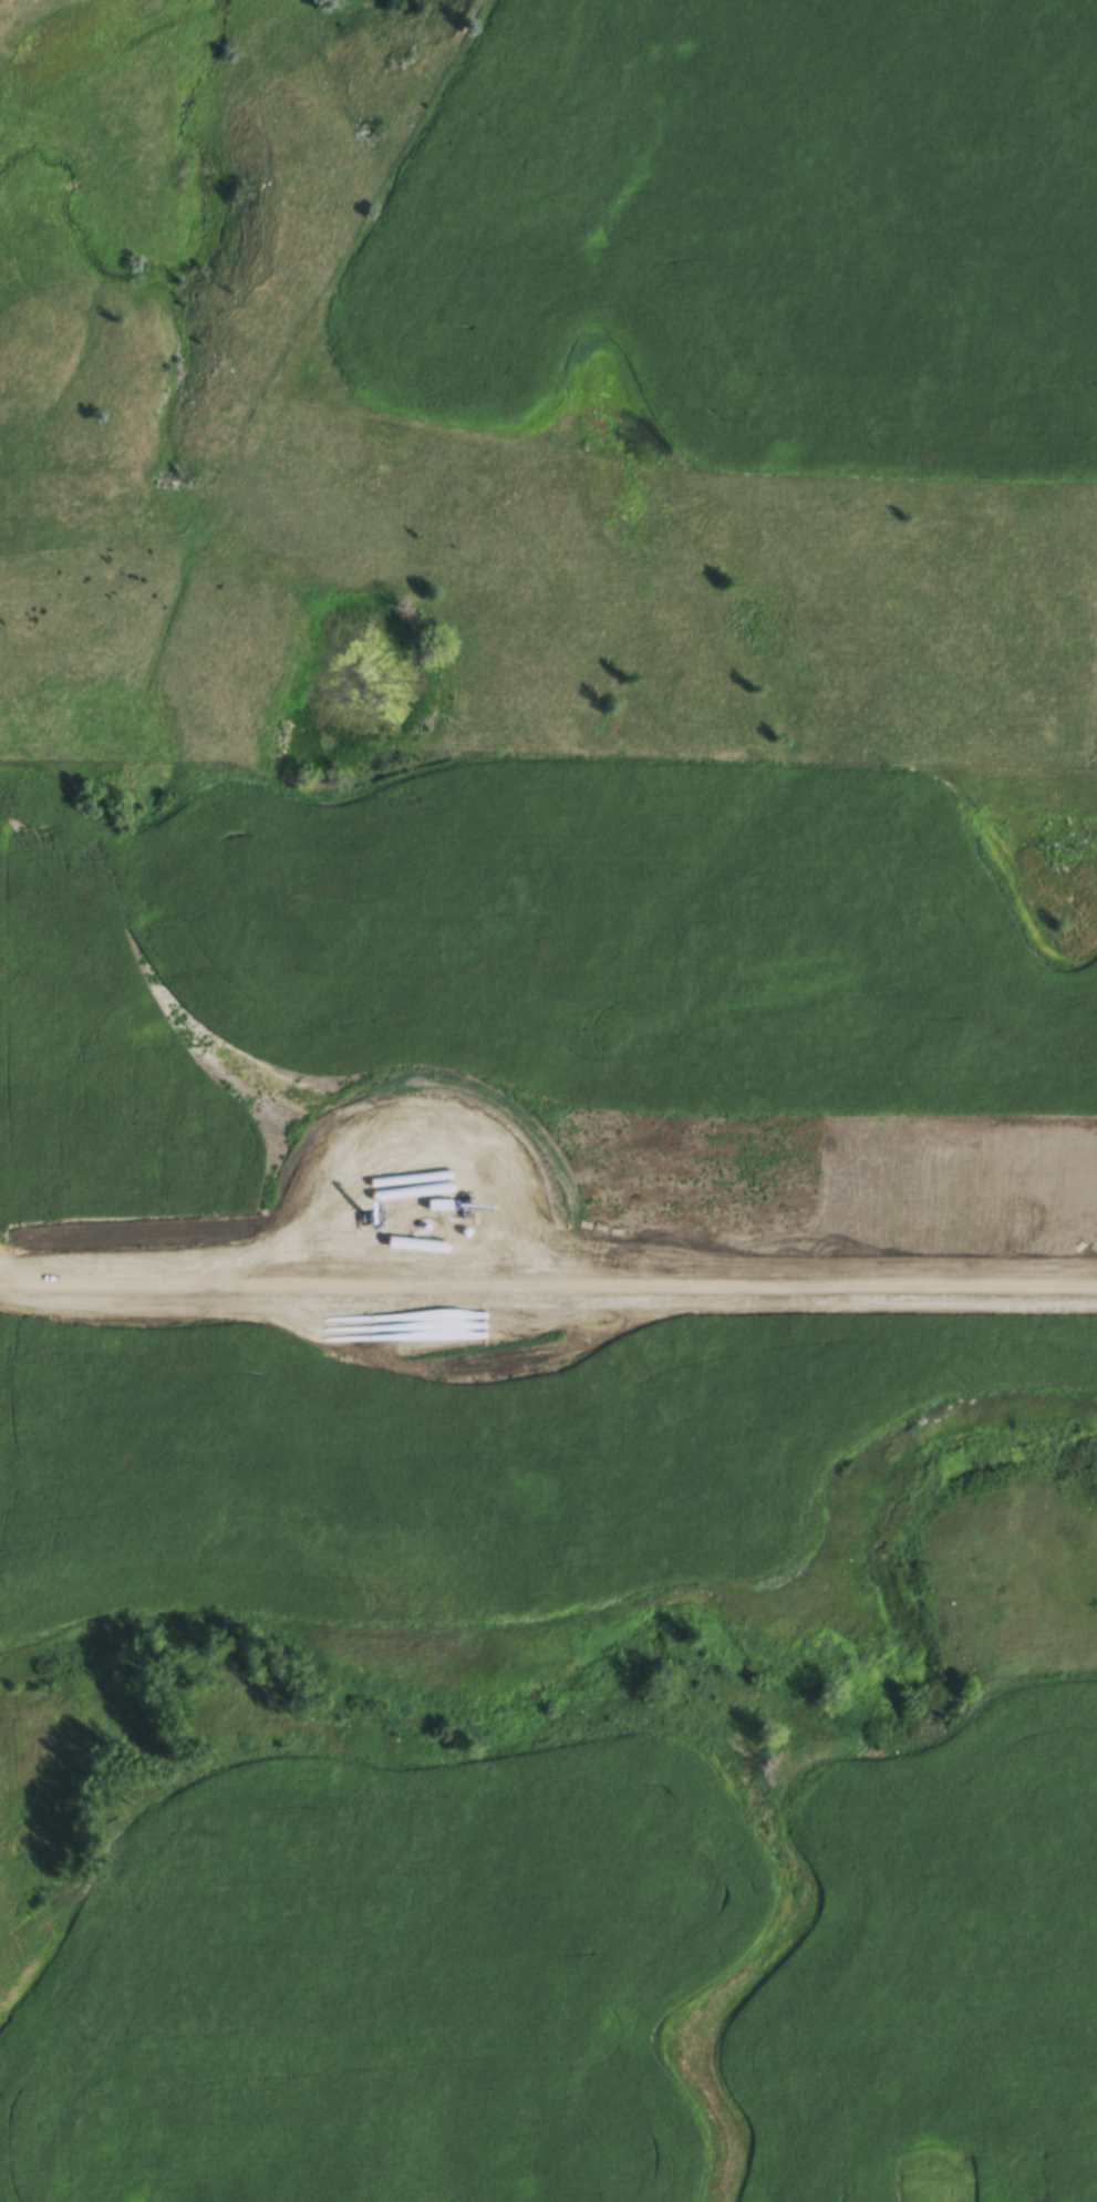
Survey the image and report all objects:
wind turbine: (407, 1223)

